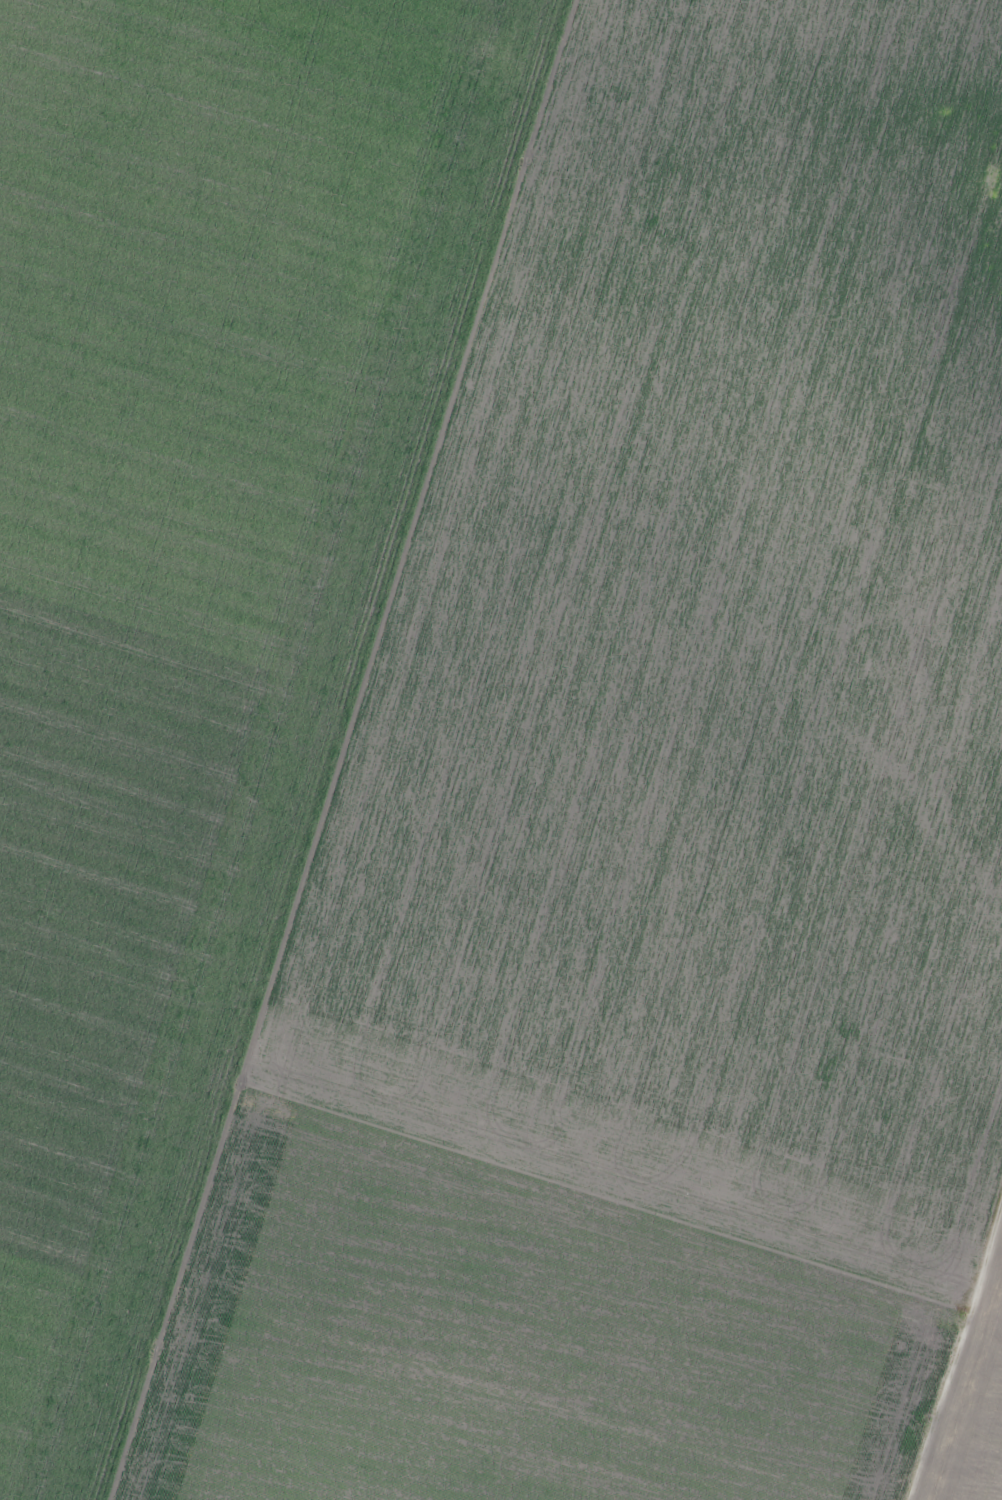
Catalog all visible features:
road: (351, 750)

